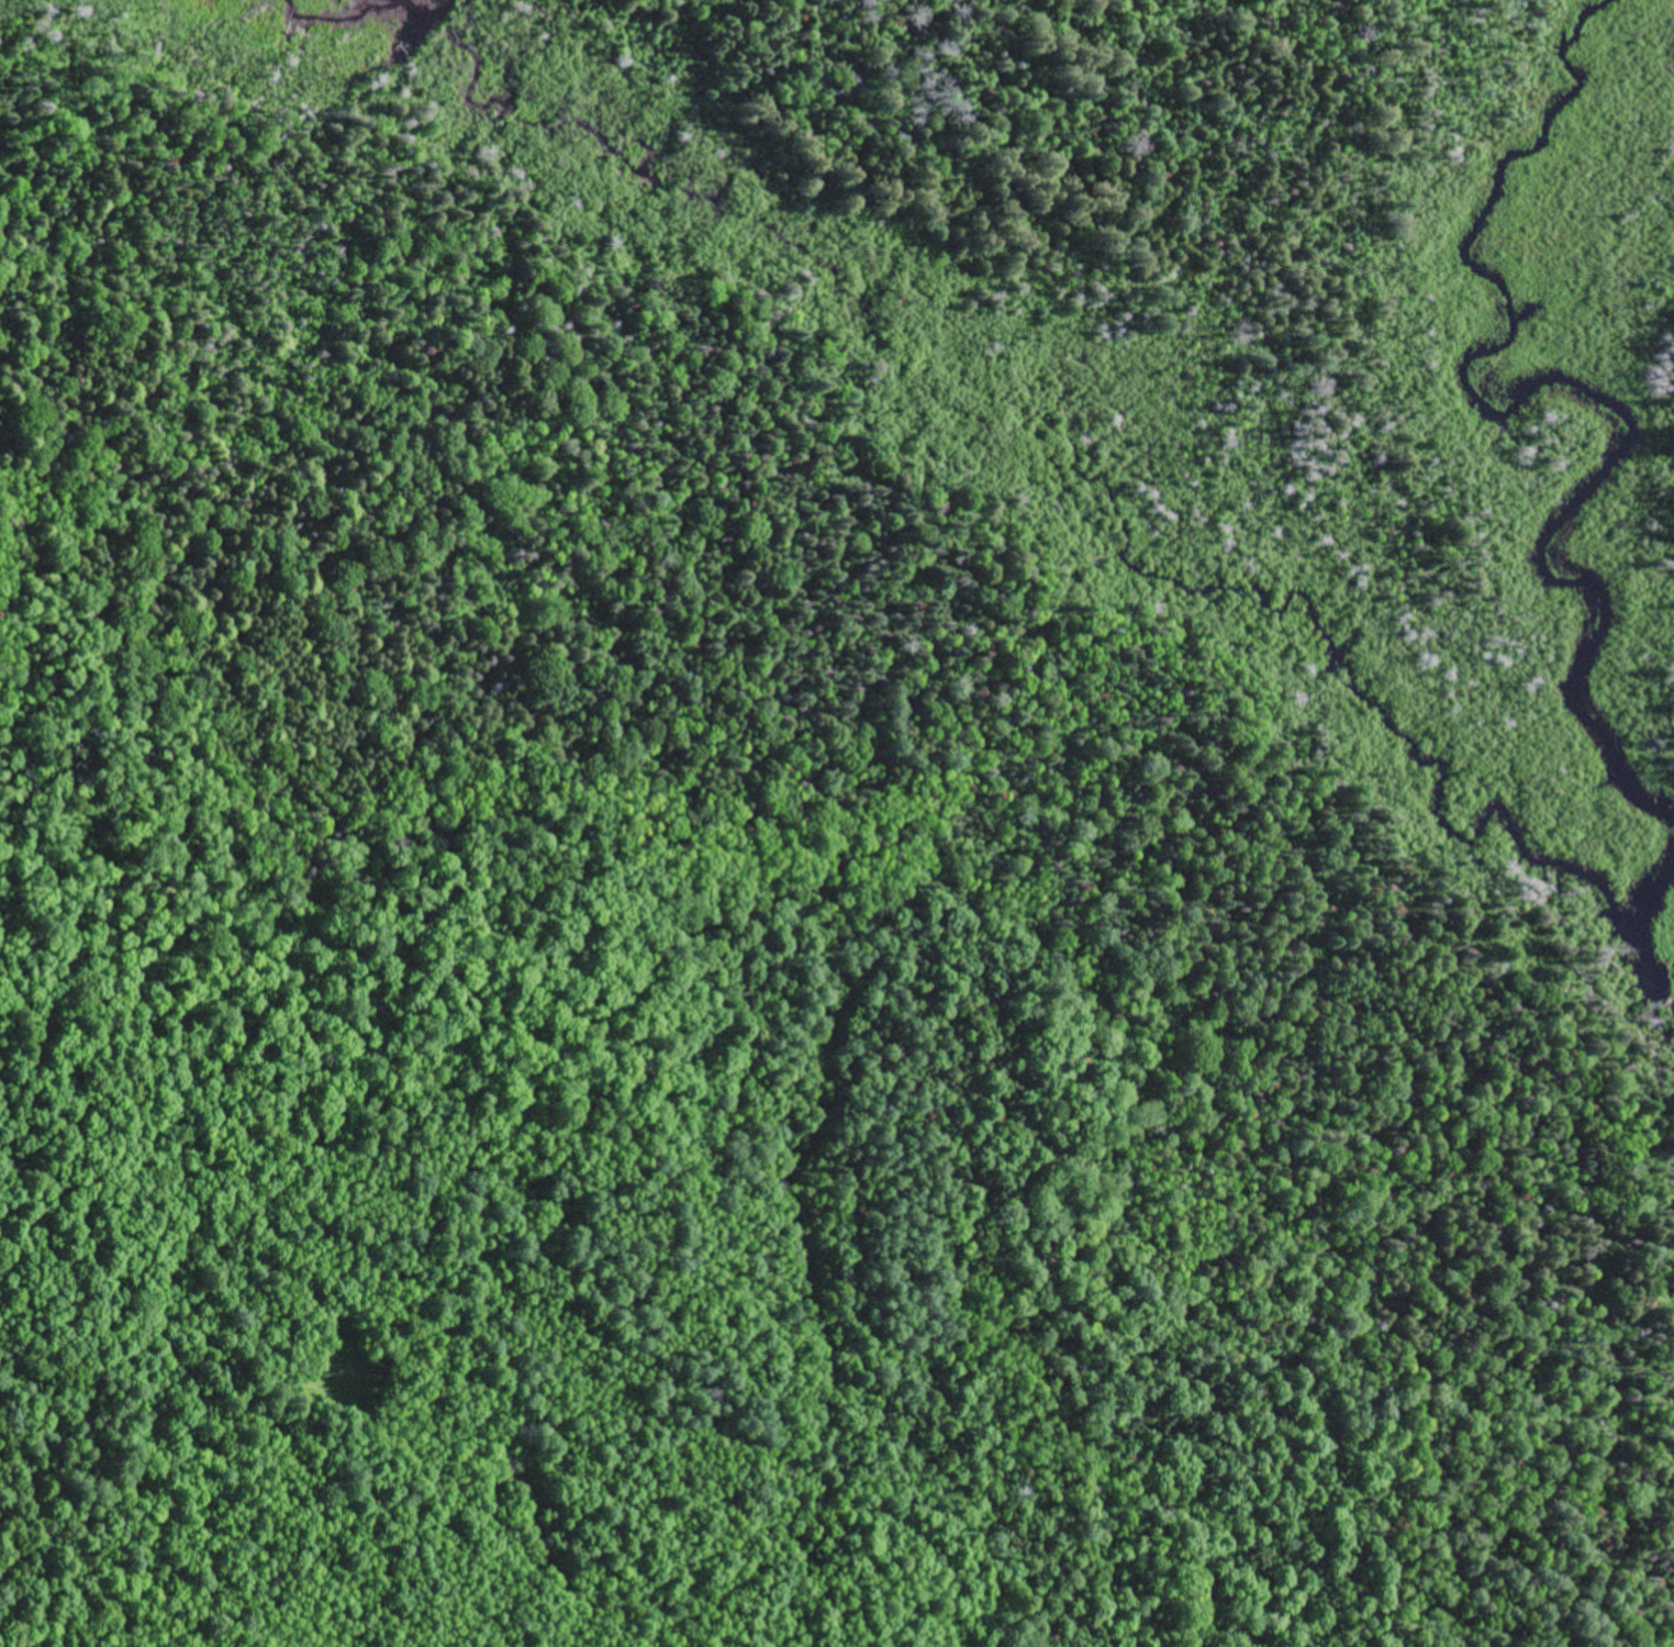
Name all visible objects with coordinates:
road: (209, 1461)

